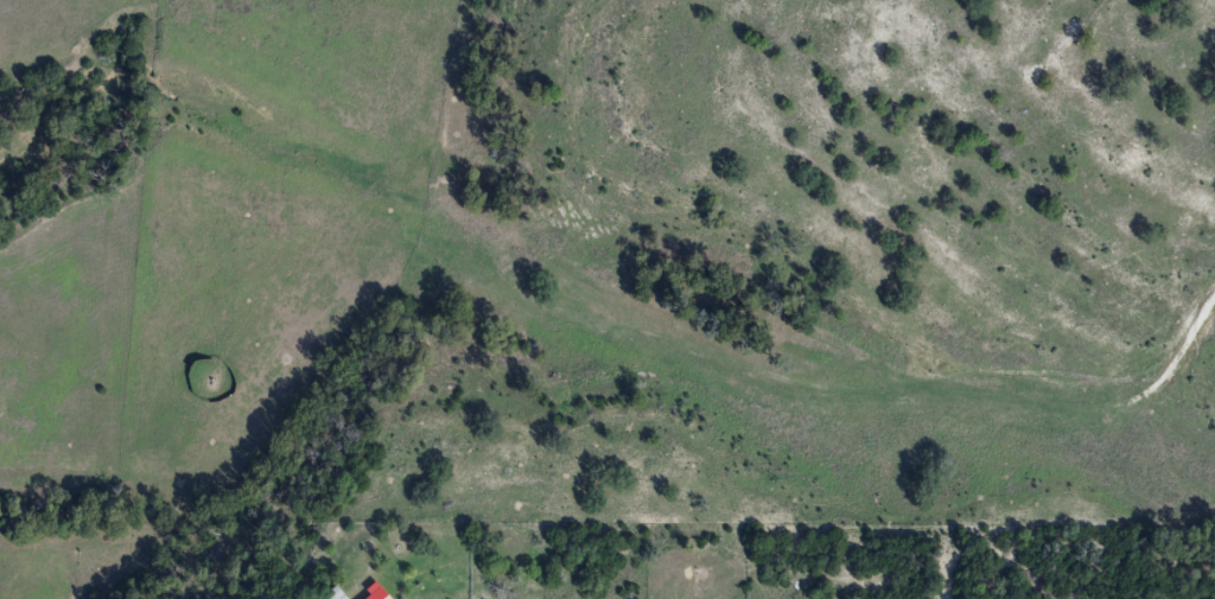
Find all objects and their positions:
road: (941, 253)
building: (331, 593)
building: (371, 593)

